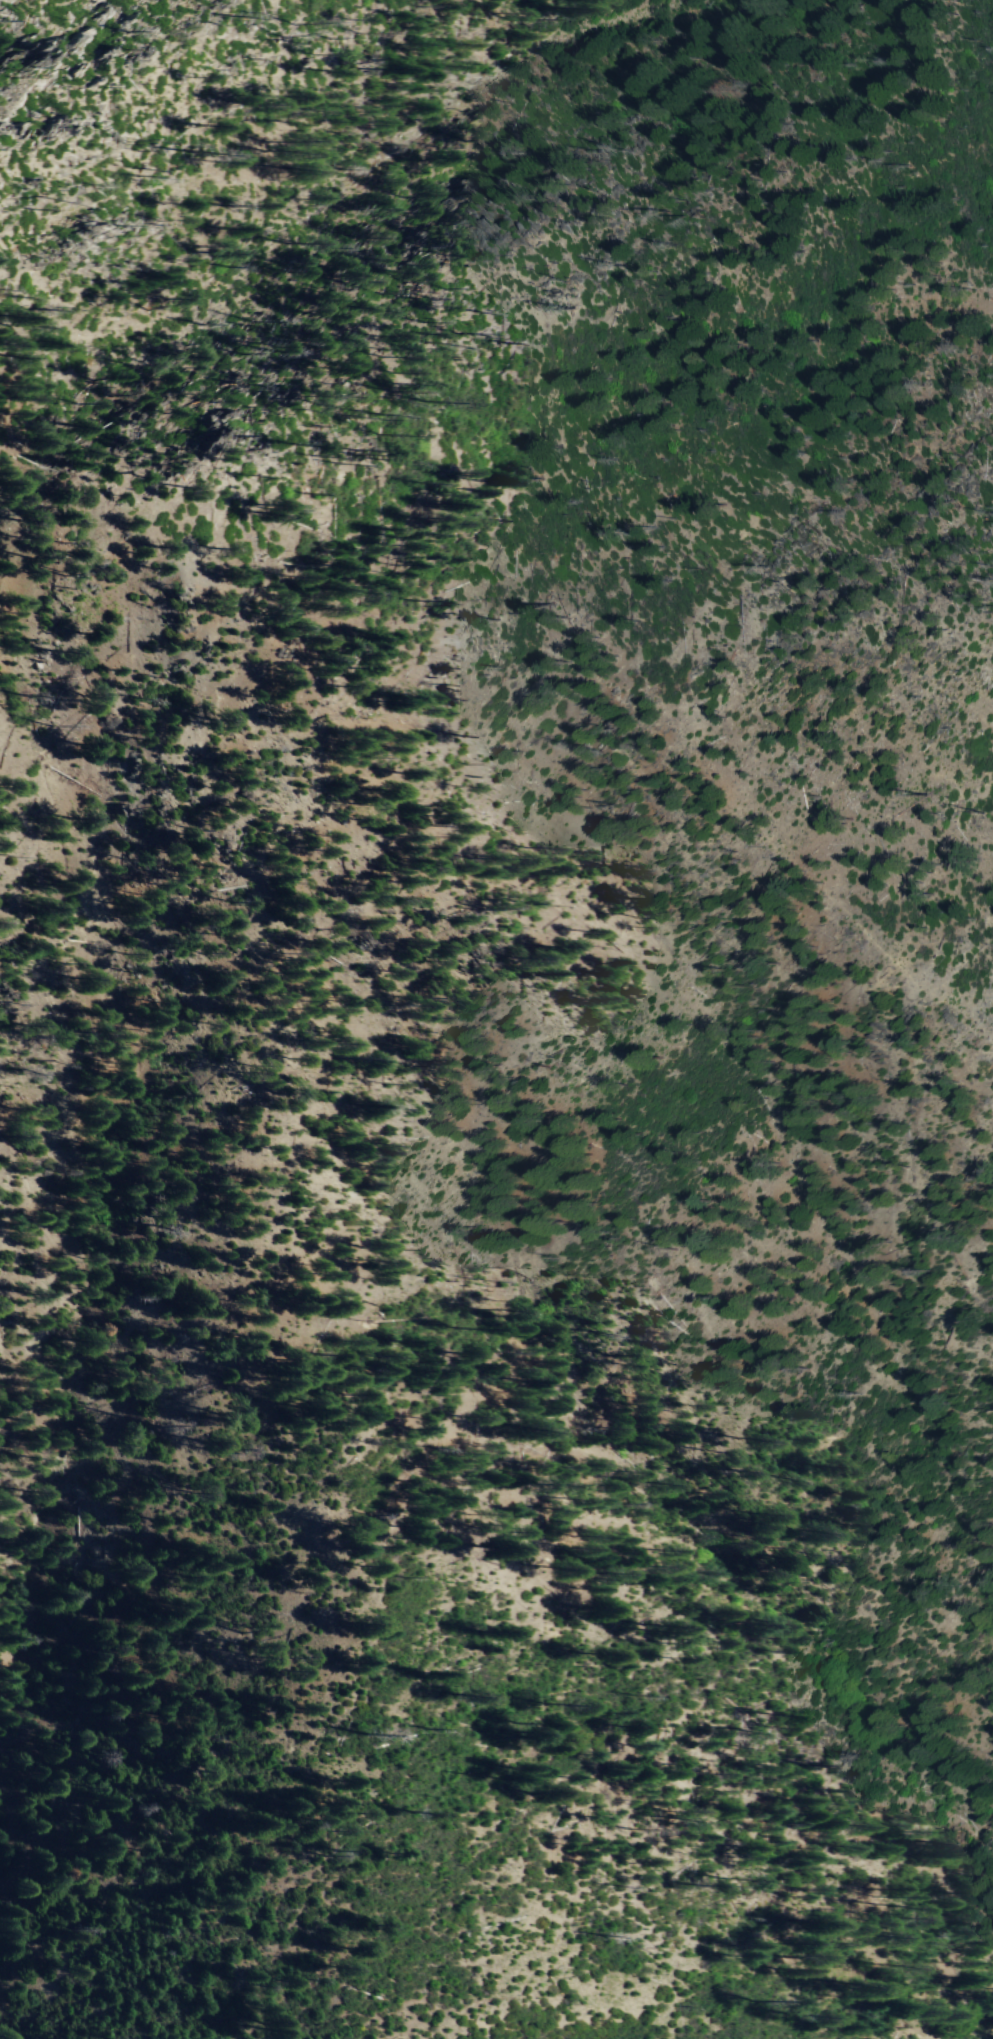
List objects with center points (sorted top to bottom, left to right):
helipad: (696, 1610)

